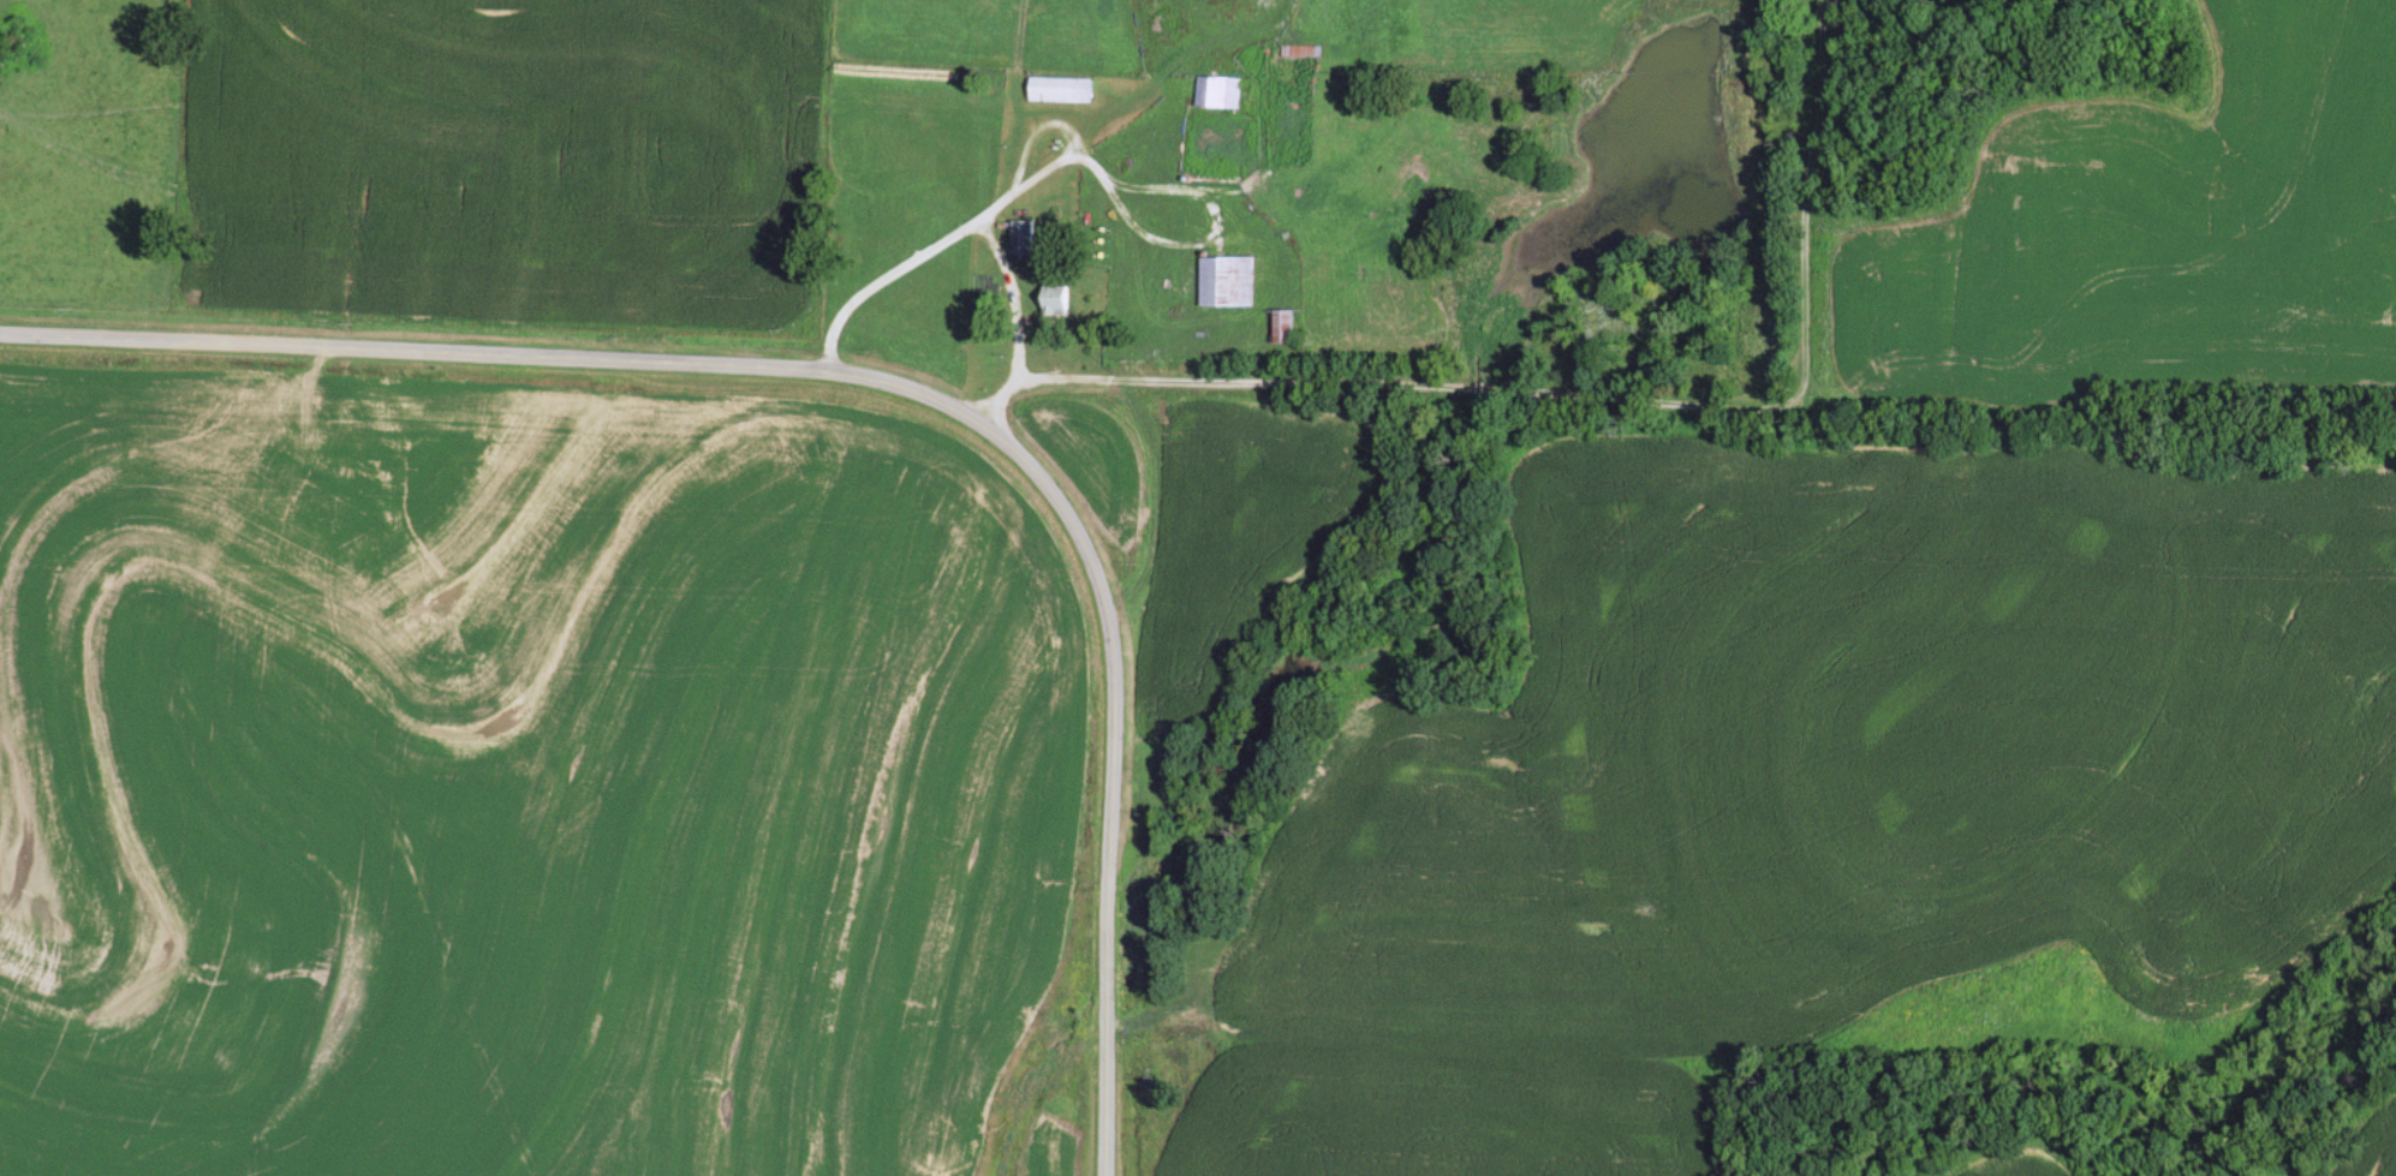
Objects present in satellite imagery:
building: (1300, 50)
building: (1061, 89)
building: (1217, 91)
road: (826, 163)
road: (1056, 169)
building: (1021, 237)
building: (1228, 281)
building: (1056, 299)
building: (1286, 326)
road: (1024, 328)
road: (893, 384)
road: (1609, 399)
building: (1185, 423)

